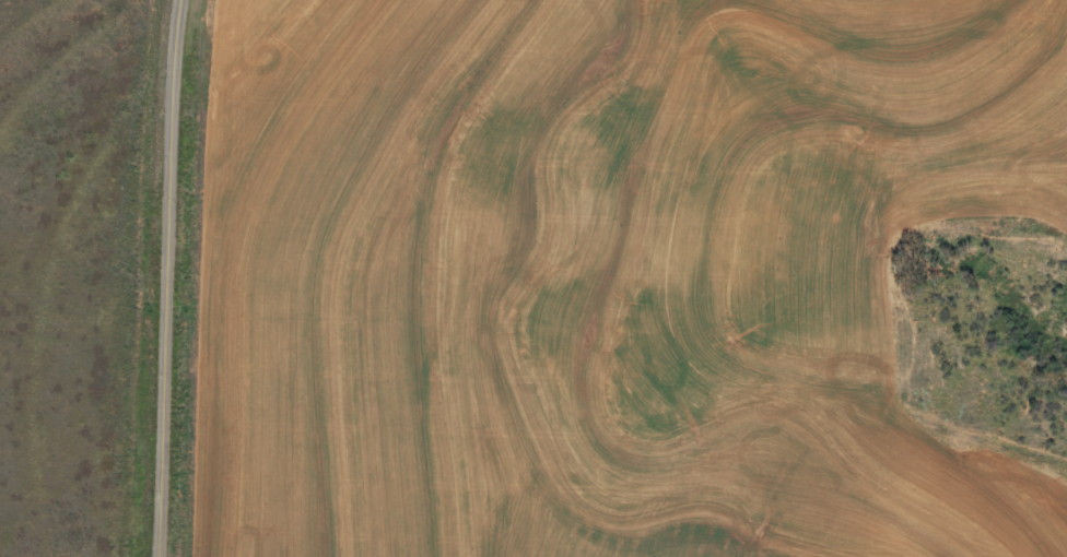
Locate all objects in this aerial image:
road: (167, 277)

